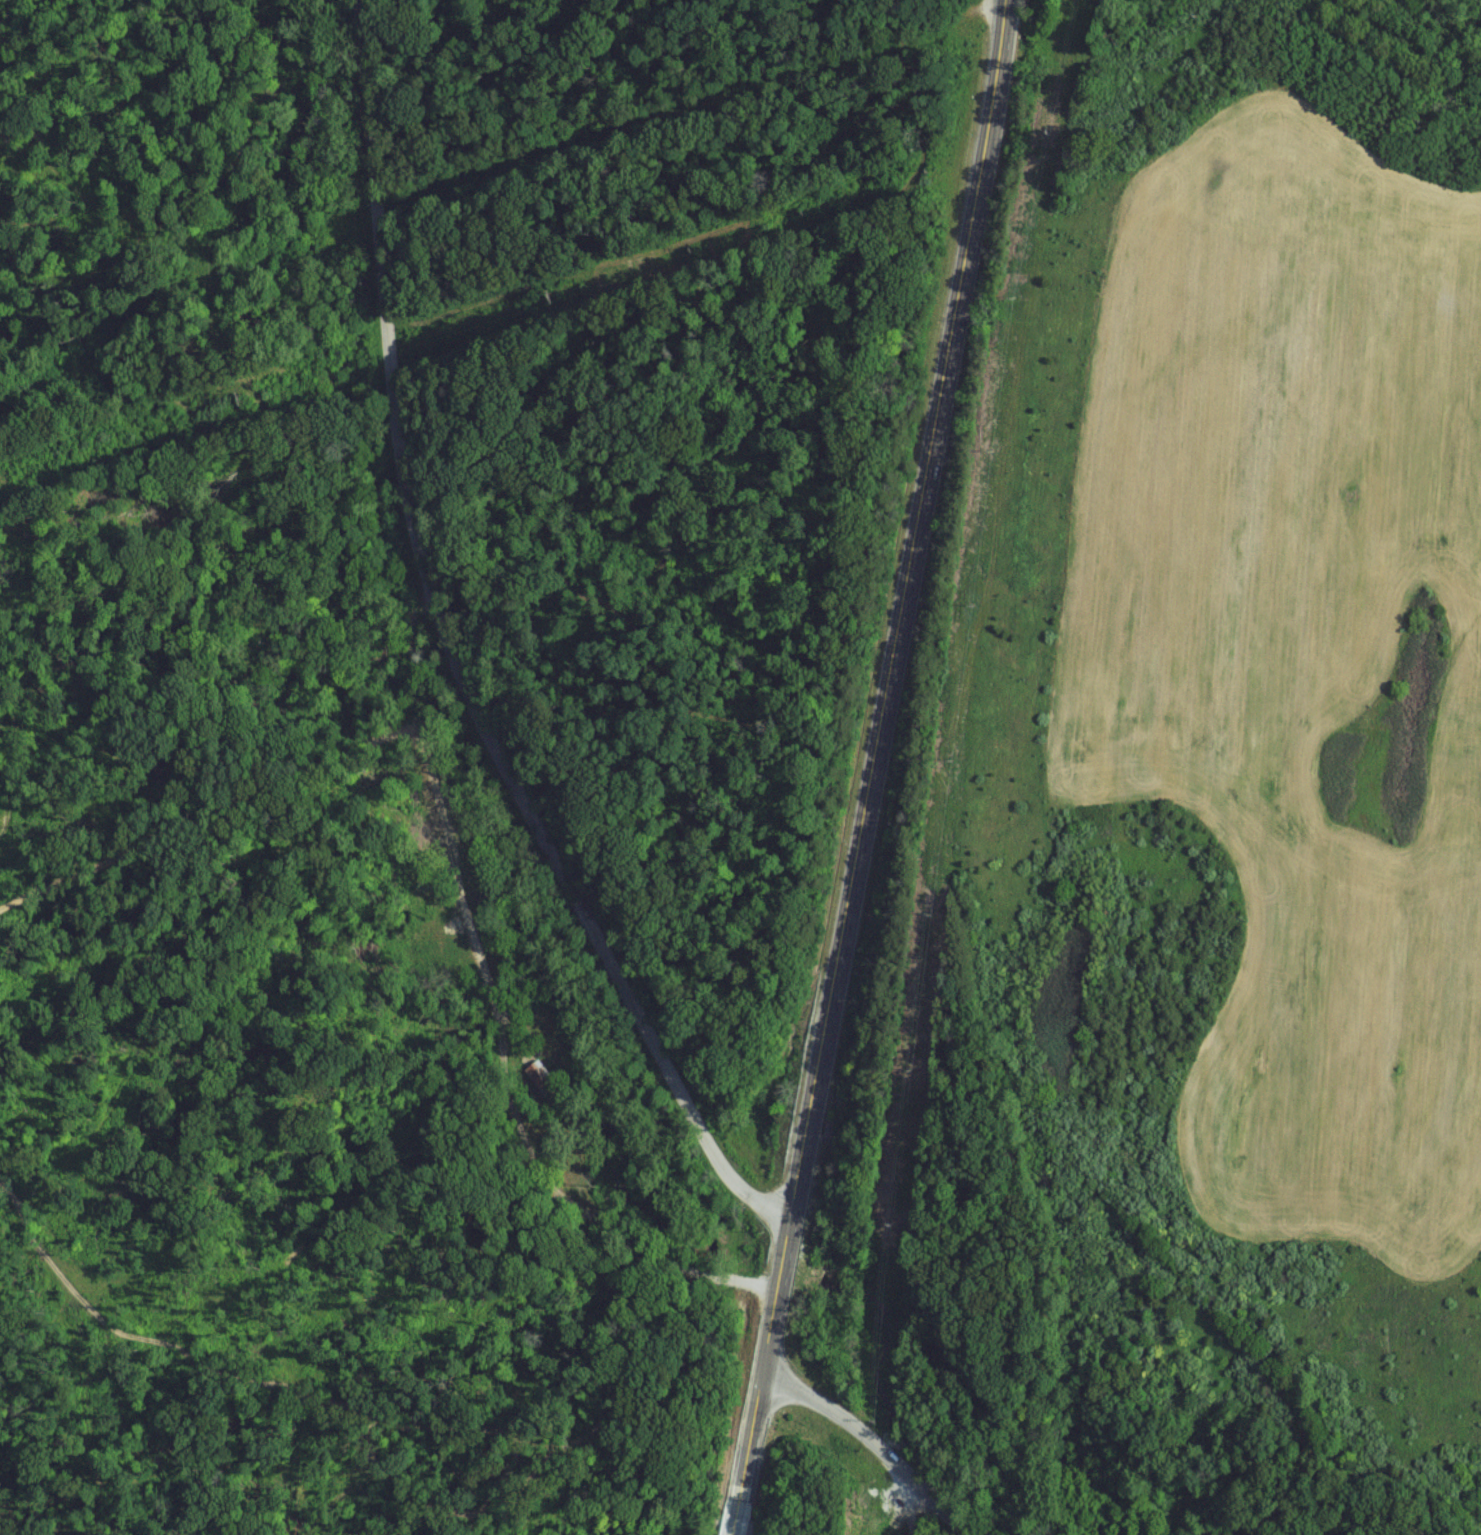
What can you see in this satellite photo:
road: (443, 663)
road: (875, 767)
road: (876, 1444)
road: (902, 1501)

